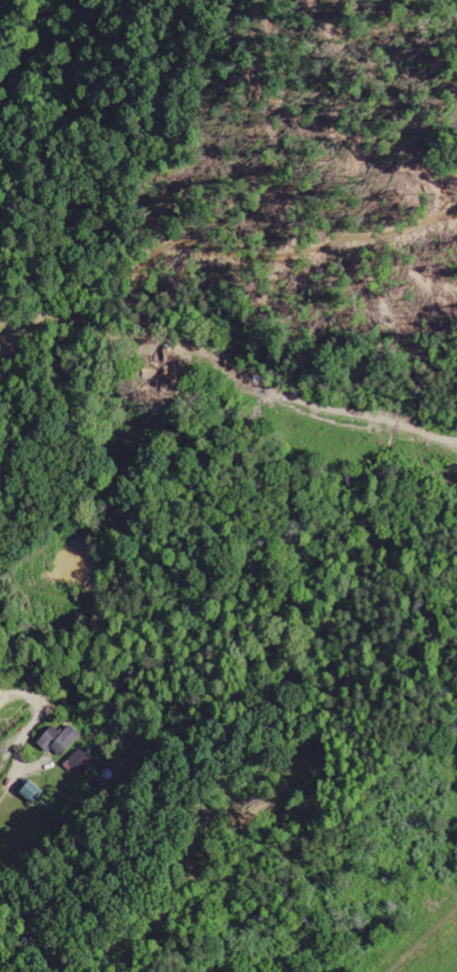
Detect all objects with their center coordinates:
road: (35, 700)
building: (59, 740)
building: (77, 765)
building: (30, 792)

